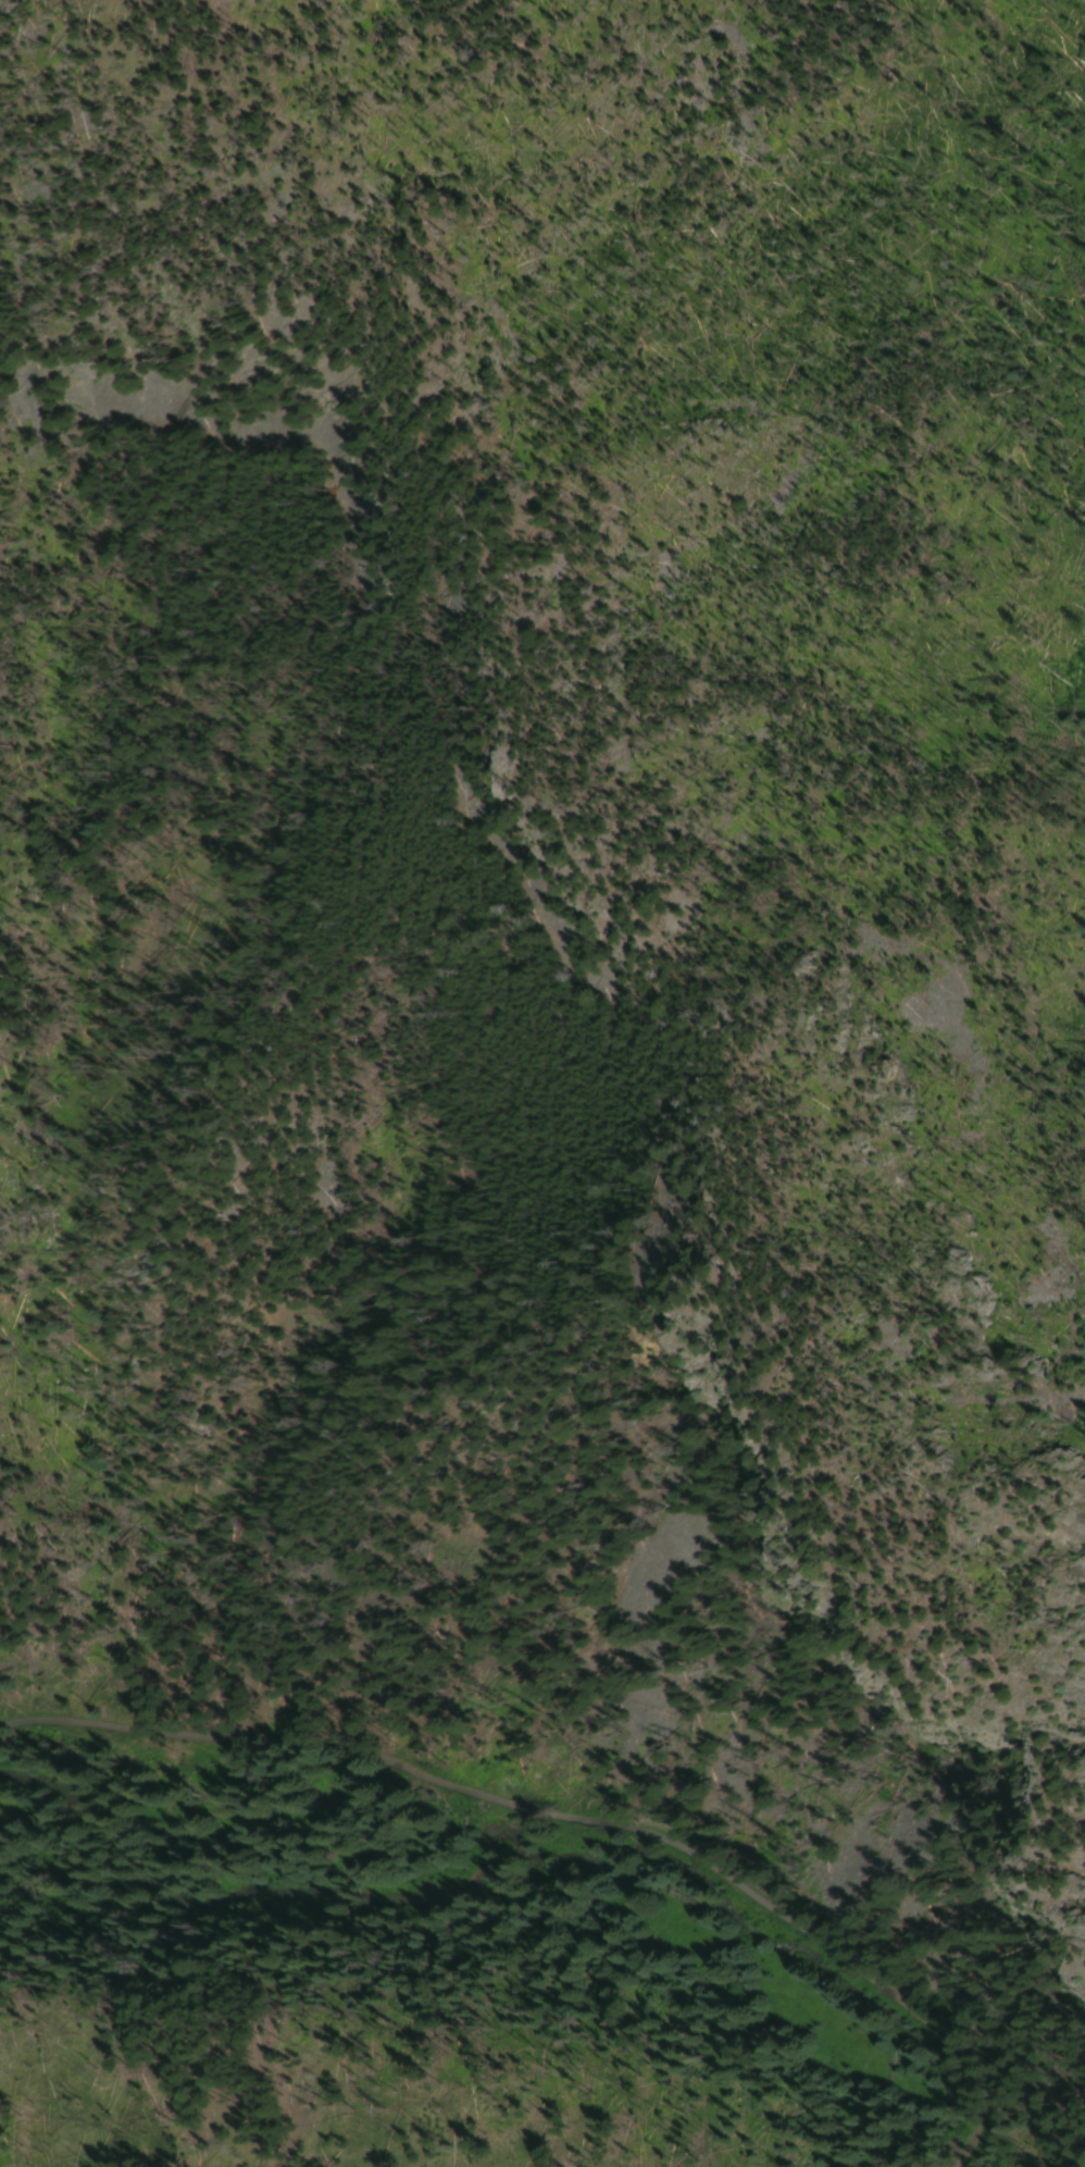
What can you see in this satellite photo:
road: (569, 1815)
river: (525, 1850)

